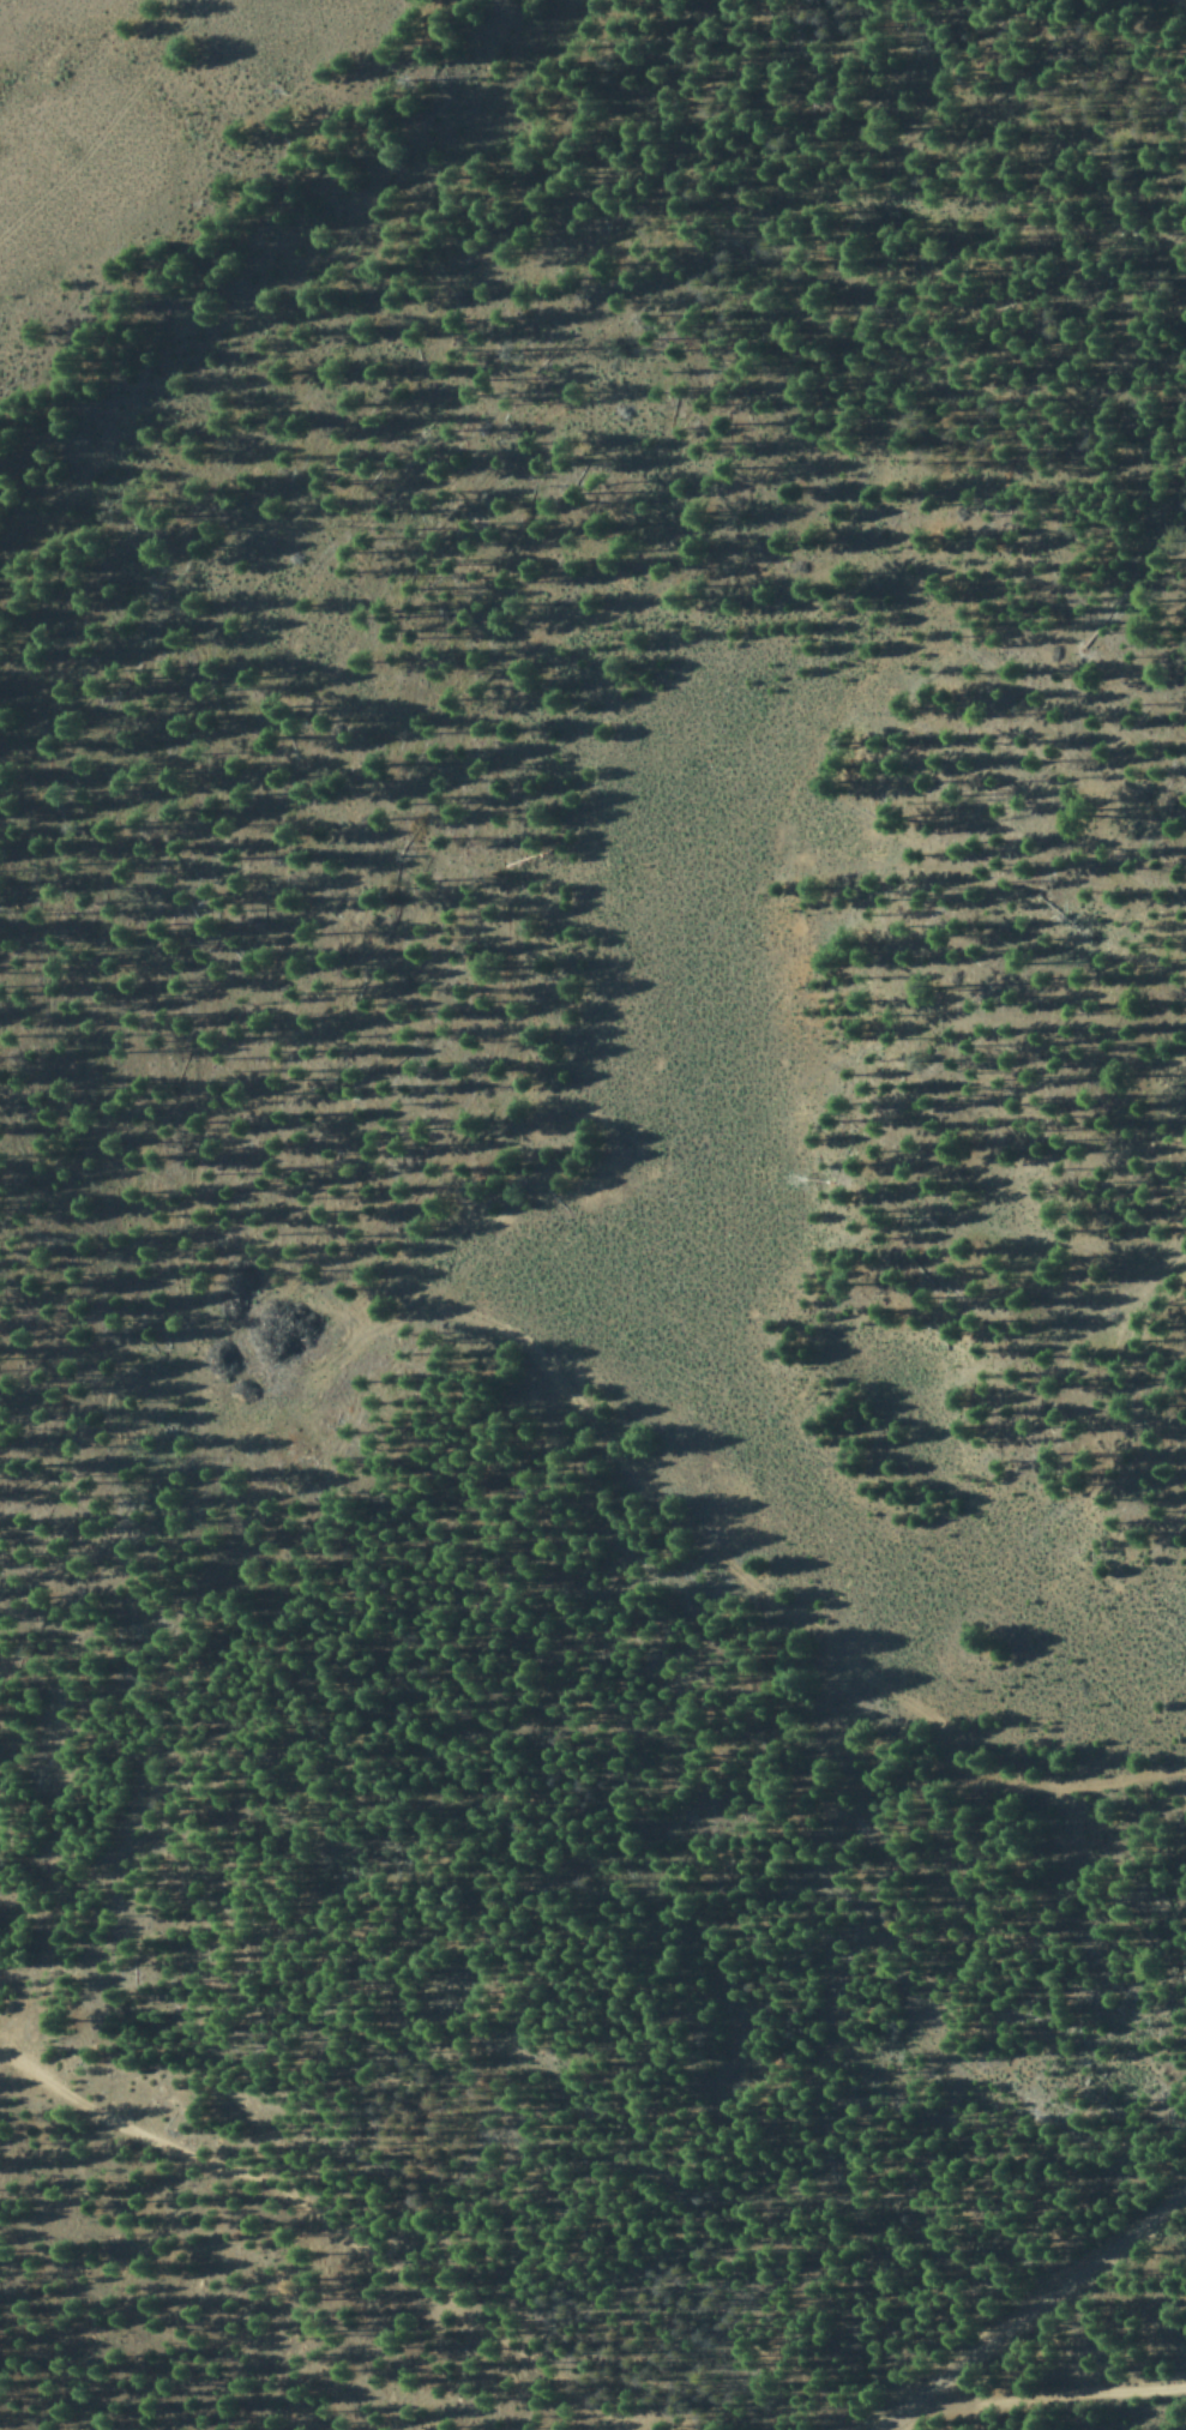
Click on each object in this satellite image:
road: (993, 2299)

